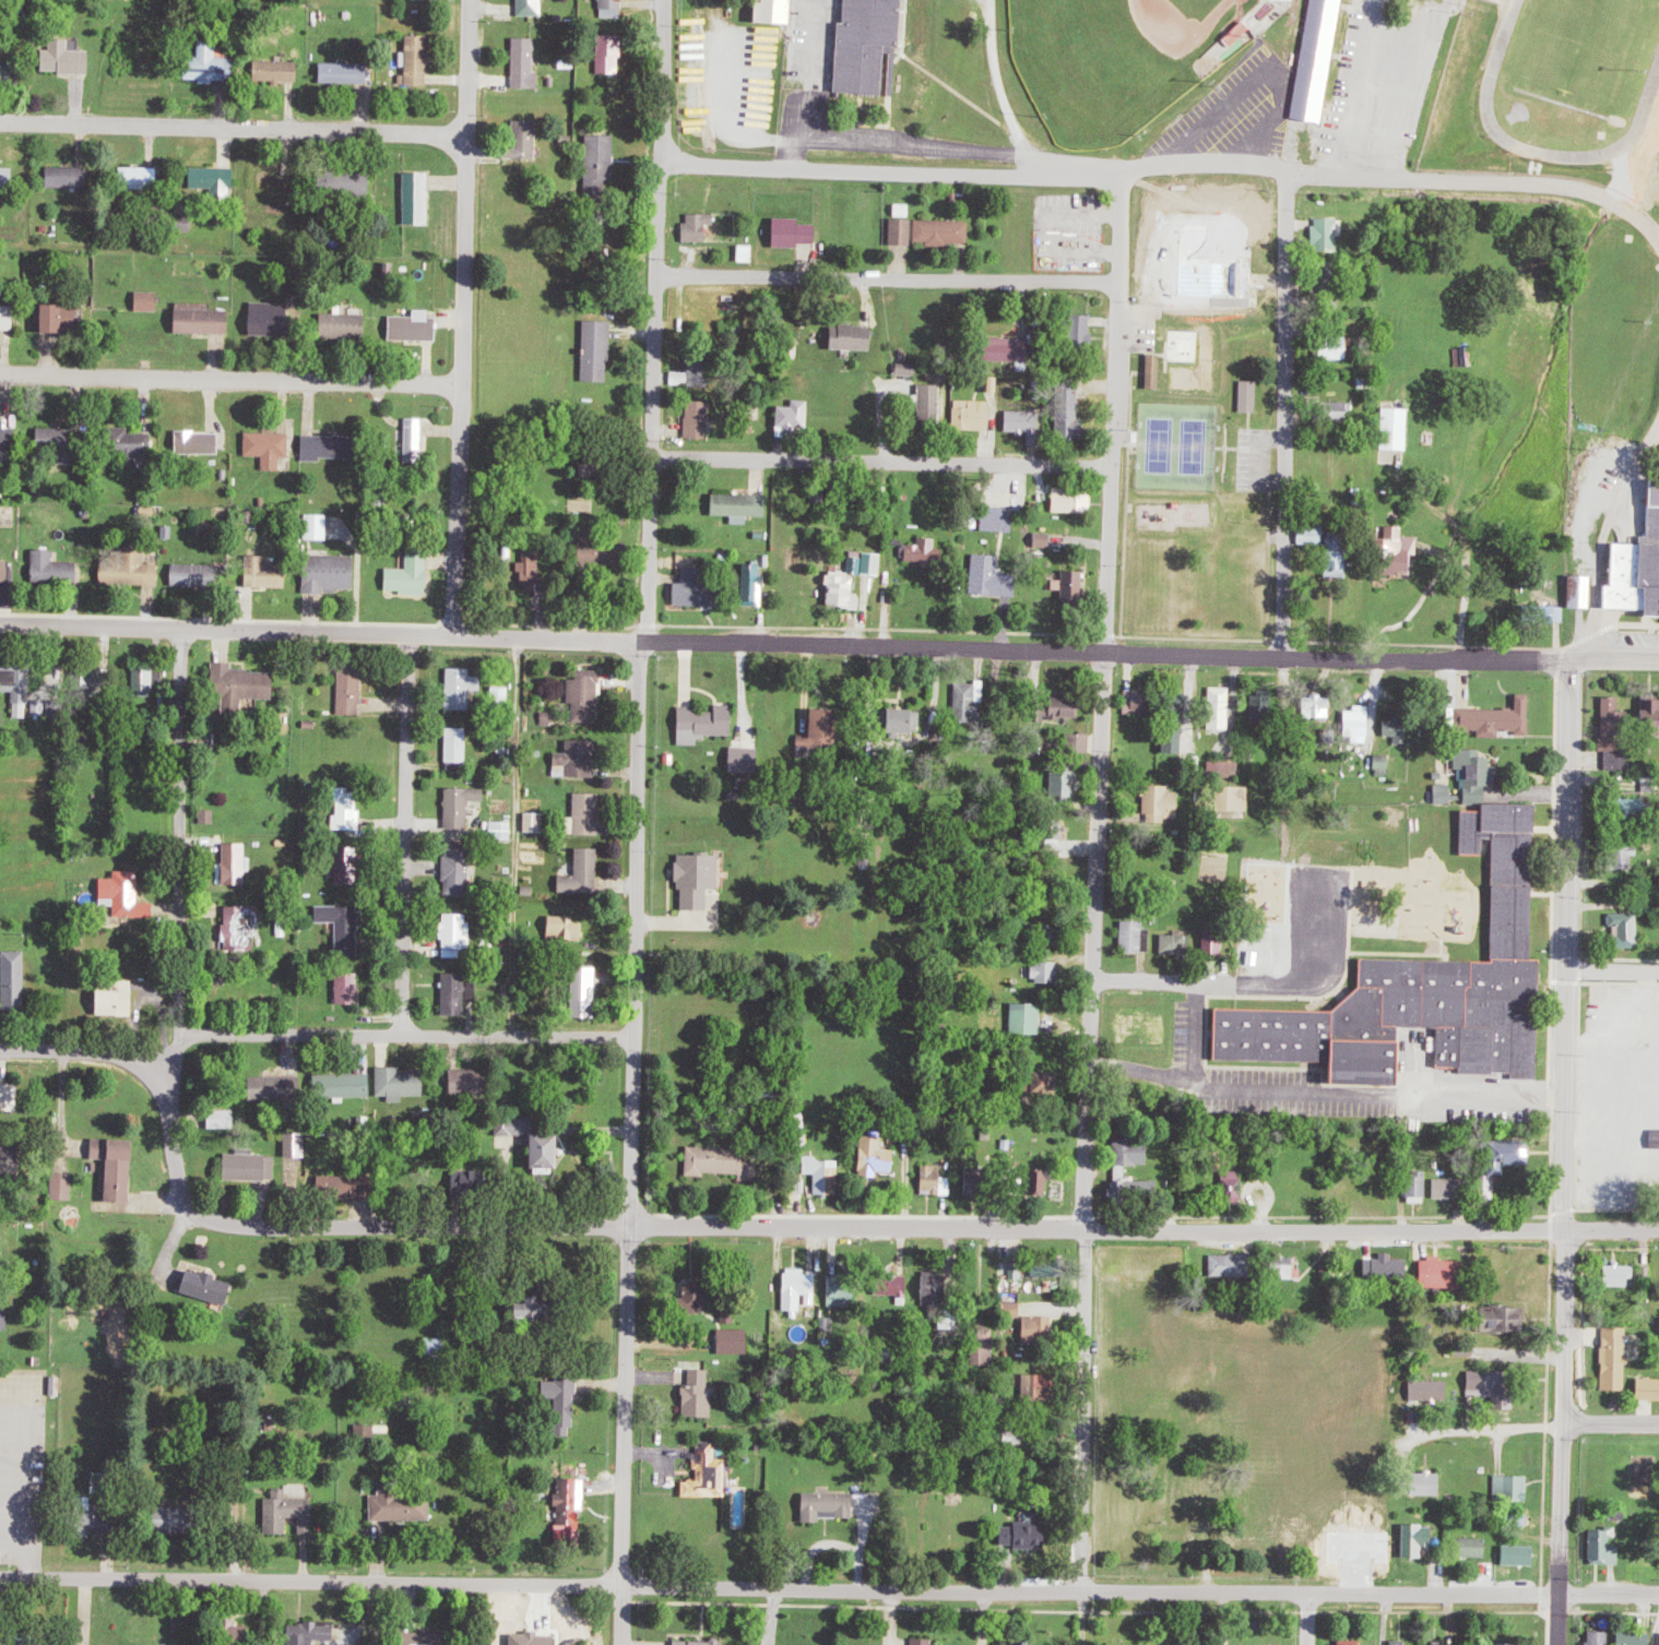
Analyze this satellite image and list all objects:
building: (534, 8)
building: (1237, 33)
building: (870, 46)
park: (1116, 58)
building: (72, 60)
building: (1317, 60)
building: (419, 62)
road: (1413, 63)
building: (529, 64)
building: (7, 67)
building: (217, 69)
building: (282, 72)
building: (348, 73)
road: (794, 84)
road: (1359, 88)
road: (999, 94)
road: (233, 126)
building: (533, 150)
road: (1166, 165)
building: (9, 177)
building: (70, 178)
building: (220, 182)
building: (420, 199)
building: (797, 233)
building: (1327, 234)
building: (1160, 278)
road: (889, 279)
building: (150, 301)
building: (10, 318)
road: (463, 318)
building: (67, 319)
building: (274, 320)
road: (653, 320)
building: (208, 322)
building: (349, 327)
building: (419, 327)
building: (1334, 347)
building: (601, 351)
building: (1154, 370)
road: (232, 378)
building: (1249, 395)
building: (1337, 410)
road: (1117, 413)
road: (1281, 414)
building: (798, 416)
building: (1396, 428)
building: (9, 440)
building: (418, 440)
building: (201, 443)
park: (1177, 444)
building: (333, 448)
building: (271, 449)
road: (882, 463)
building: (322, 528)
road: (1600, 532)
building: (1312, 535)
building: (1396, 551)
building: (1646, 560)
building: (1336, 563)
building: (876, 564)
building: (133, 569)
building: (7, 570)
building: (56, 570)
building: (534, 572)
building: (271, 574)
building: (199, 575)
building: (414, 577)
building: (1617, 577)
building: (1583, 589)
building: (1549, 612)
road: (316, 632)
road: (639, 641)
road: (1152, 654)
building: (153, 679)
building: (467, 679)
building: (247, 687)
building: (588, 688)
building: (502, 696)
building: (352, 698)
building: (1136, 701)
building: (1176, 705)
building: (1319, 705)
building: (1222, 707)
building: (58, 711)
building: (1496, 718)
building: (1649, 718)
building: (1359, 723)
building: (710, 725)
road: (179, 729)
building: (1396, 729)
building: (1616, 732)
building: (460, 749)
building: (1384, 761)
building: (1476, 773)
building: (1444, 792)
building: (1233, 798)
building: (1161, 803)
building: (464, 807)
building: (1631, 808)
building: (351, 813)
building: (586, 819)
building: (537, 823)
building: (506, 831)
road: (404, 836)
building: (1623, 857)
building: (239, 865)
building: (352, 869)
building: (1497, 870)
building: (461, 871)
building: (586, 873)
building: (130, 895)
building: (347, 927)
building: (553, 927)
building: (245, 928)
building: (461, 935)
building: (1138, 937)
building: (1175, 942)
building: (1212, 945)
road: (1612, 969)
building: (16, 978)
road: (1139, 982)
road: (1311, 987)
building: (351, 988)
building: (121, 1001)
building: (1030, 1021)
building: (1408, 1021)
road: (392, 1037)
road: (78, 1051)
building: (473, 1082)
building: (402, 1085)
building: (345, 1086)
building: (281, 1088)
building: (11, 1096)
road: (1331, 1101)
road: (1086, 1123)
building: (1655, 1139)
road: (630, 1142)
building: (553, 1151)
building: (1131, 1152)
road: (1563, 1153)
building: (1507, 1154)
building: (296, 1155)
building: (701, 1161)
building: (12, 1163)
building: (121, 1167)
building: (252, 1168)
building: (472, 1180)
building: (1418, 1184)
building: (1489, 1185)
building: (1231, 1187)
building: (67, 1188)
building: (1445, 1188)
road: (784, 1229)
road: (1610, 1229)
building: (1, 1251)
building: (1229, 1265)
building: (1287, 1267)
building: (1388, 1267)
building: (1438, 1273)
building: (1620, 1275)
building: (212, 1287)
building: (802, 1288)
building: (5, 1315)
building: (1502, 1316)
building: (1614, 1357)
building: (1482, 1379)
building: (1647, 1387)
building: (1430, 1390)
building: (702, 1395)
road: (1611, 1426)
road: (1484, 1430)
building: (368, 1434)
building: (711, 1476)
building: (102, 1482)
building: (1422, 1482)
building: (1513, 1487)
building: (403, 1504)
building: (831, 1506)
building: (574, 1510)
building: (293, 1513)
building: (1414, 1538)
building: (1470, 1546)
building: (1603, 1546)
building: (1517, 1553)
road: (829, 1590)
road: (81, 1611)
road: (1222, 1619)
road: (1305, 1619)
road: (1083, 1620)
building: (316, 1633)
building: (1600, 1637)
building: (1635, 1637)
building: (536, 1638)
building: (926, 1642)
building: (702, 1643)
building: (1507, 1643)
building: (1350, 1644)
building: (1396, 1644)

